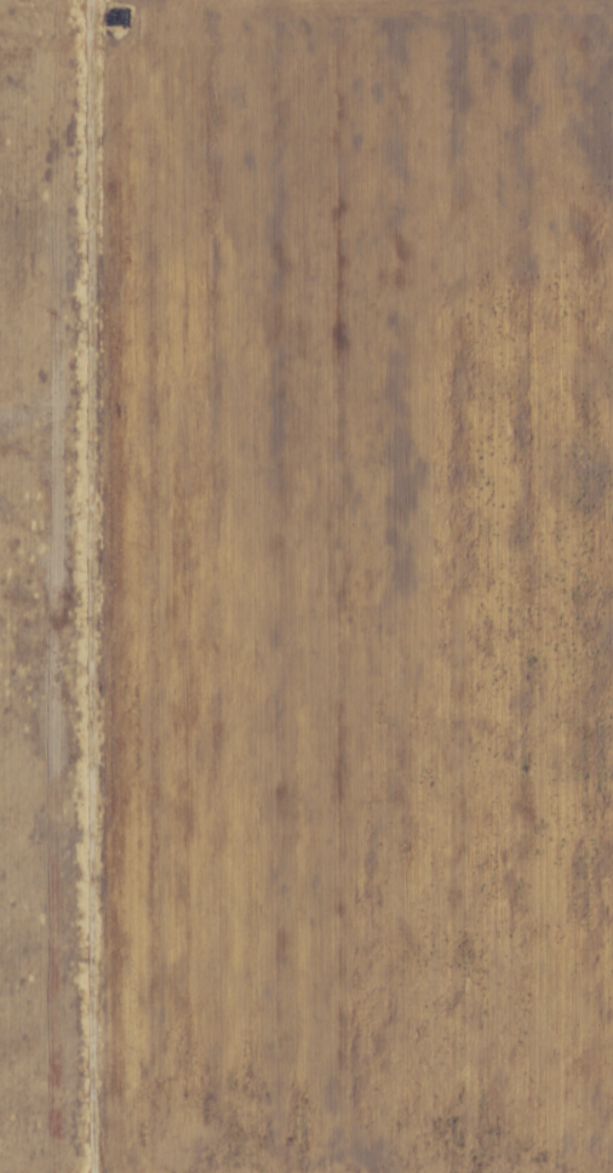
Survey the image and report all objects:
crop: (306, 586)

